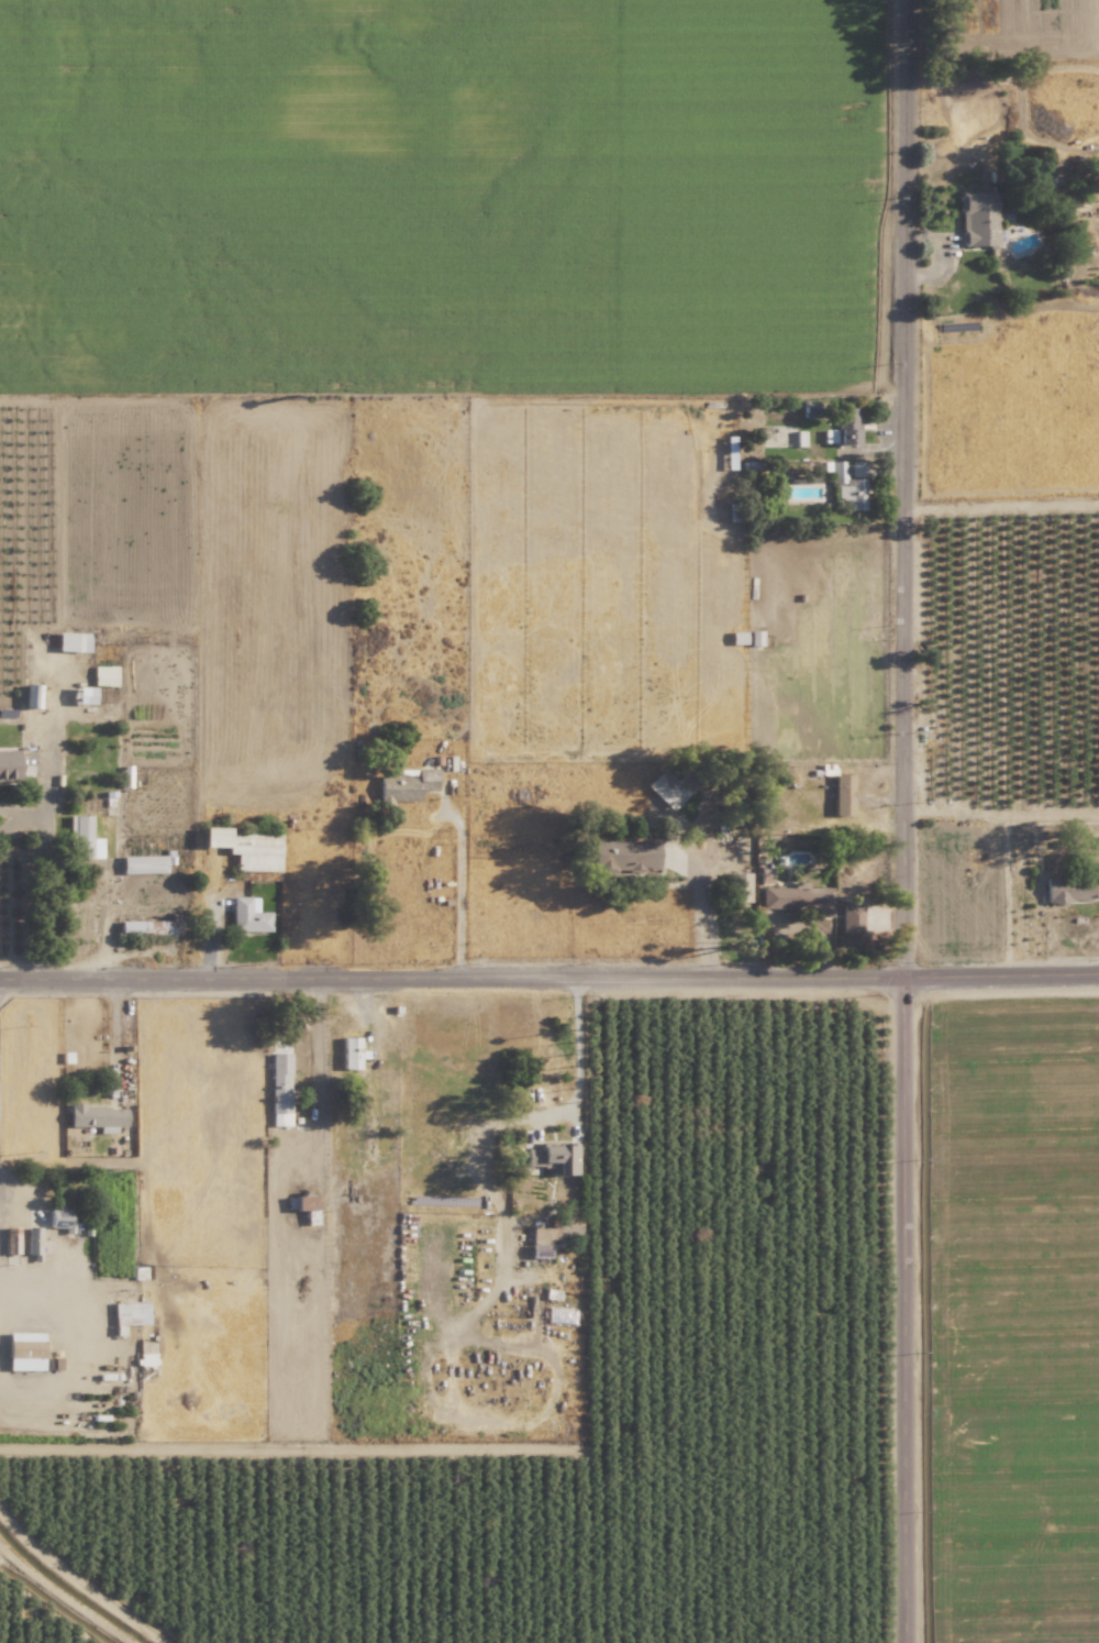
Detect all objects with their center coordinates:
building: (979, 218)
crop: (397, 238)
building: (829, 435)
building: (836, 470)
building: (853, 487)
building: (73, 641)
building: (104, 675)
building: (85, 695)
building: (32, 696)
building: (10, 765)
building: (407, 785)
building: (670, 787)
building: (843, 794)
road: (904, 821)
road: (44, 823)
building: (84, 839)
building: (247, 846)
building: (145, 863)
building: (741, 886)
building: (796, 898)
road: (711, 905)
building: (248, 915)
building: (852, 918)
building: (152, 926)
road: (549, 982)
building: (352, 1052)
road: (576, 1063)
road: (320, 1077)
building: (280, 1089)
building: (98, 1117)
building: (555, 1157)
building: (543, 1235)

